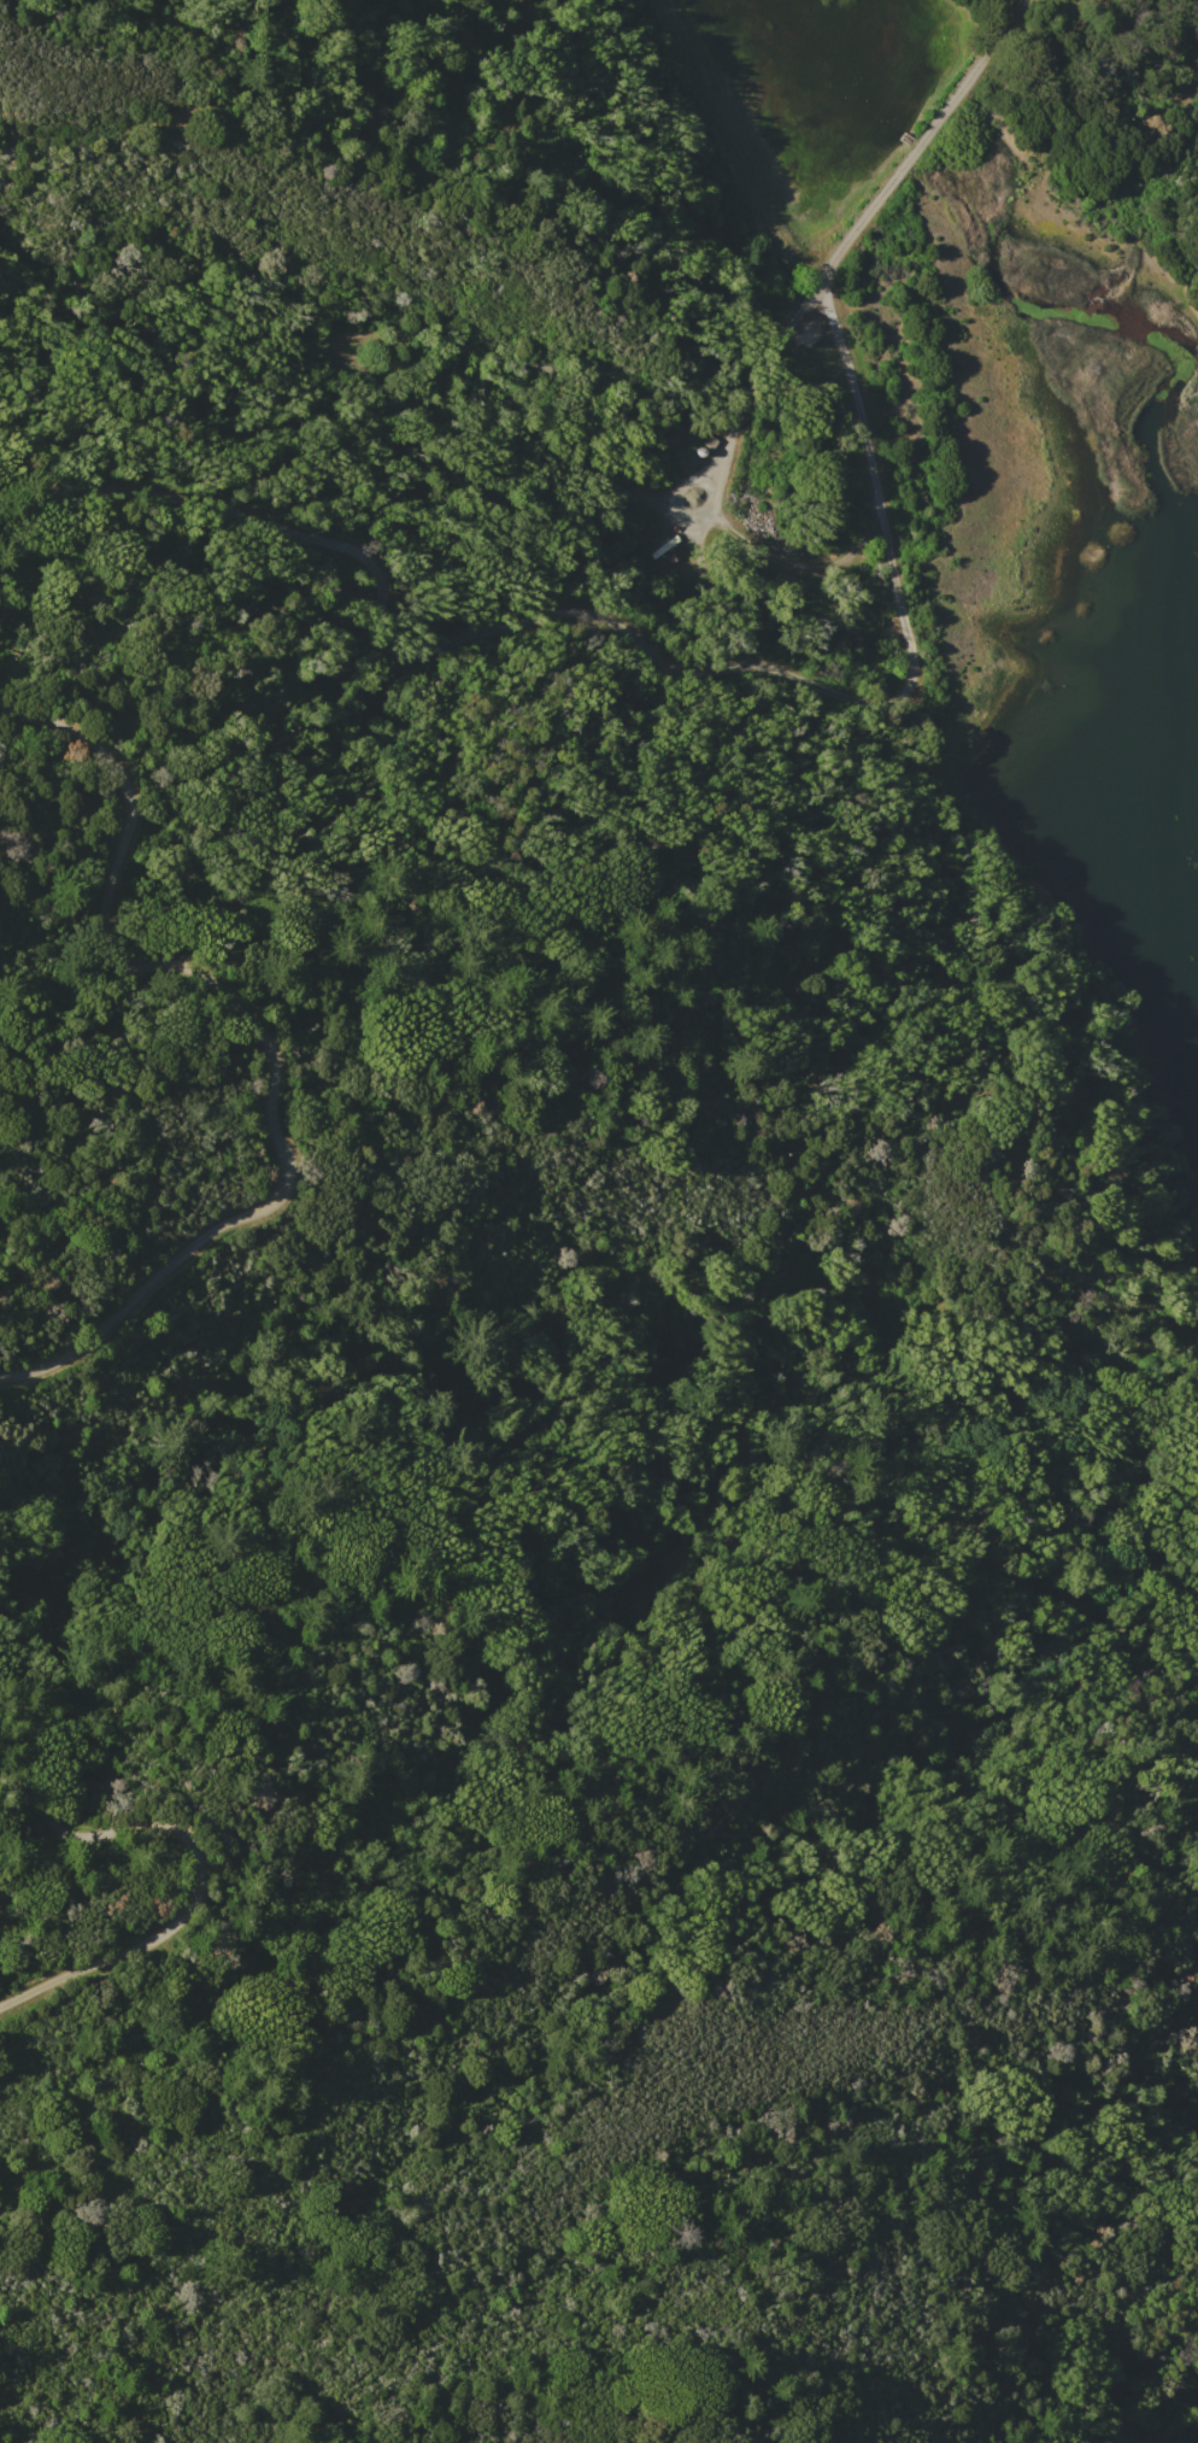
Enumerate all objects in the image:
road: (1004, 29)
road: (952, 99)
road: (917, 146)
road: (867, 212)
road: (834, 324)
road: (733, 435)
road: (798, 560)
road: (427, 645)
road: (271, 1035)
road: (198, 1890)

